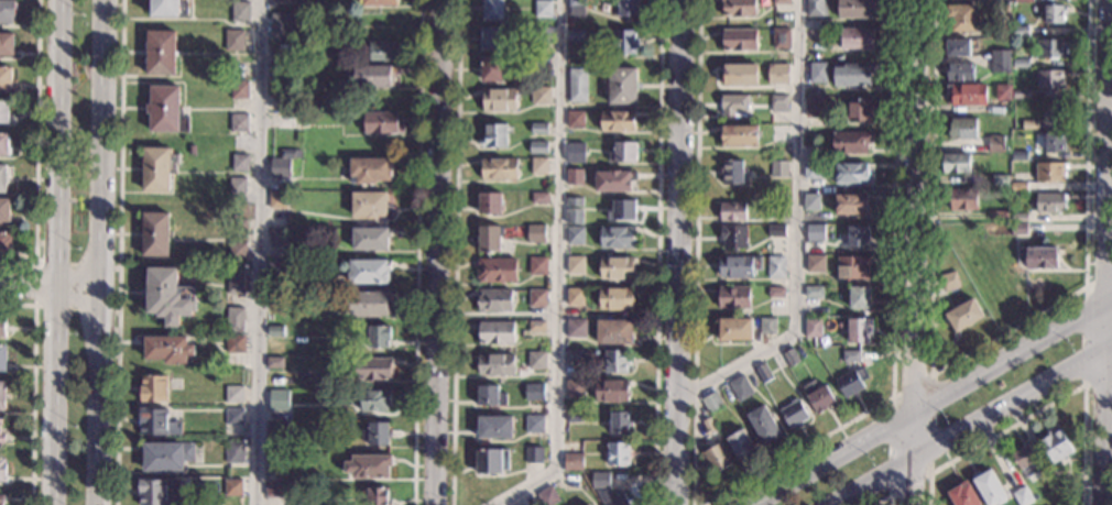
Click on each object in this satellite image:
building: (280, 0)
building: (1023, 0)
building: (781, 1)
building: (378, 2)
building: (576, 2)
building: (543, 3)
building: (815, 7)
building: (167, 8)
building: (626, 8)
building: (739, 8)
building: (855, 8)
building: (492, 9)
building: (7, 11)
building: (240, 11)
building: (1054, 13)
building: (960, 18)
building: (281, 25)
building: (1001, 29)
building: (543, 31)
building: (1020, 31)
building: (811, 33)
building: (577, 34)
building: (491, 37)
building: (857, 37)
building: (739, 39)
building: (781, 39)
building: (235, 40)
building: (623, 42)
building: (7, 44)
building: (957, 47)
building: (1050, 48)
building: (383, 51)
building: (161, 53)
building: (280, 55)
building: (527, 59)
building: (1000, 61)
building: (1020, 63)
building: (491, 68)
building: (778, 68)
building: (818, 72)
building: (958, 72)
building: (284, 74)
building: (739, 74)
building: (371, 75)
building: (851, 75)
building: (6, 78)
building: (1050, 79)
building: (577, 84)
building: (622, 86)
building: (239, 89)
building: (966, 92)
building: (1002, 92)
building: (1020, 92)
building: (541, 96)
building: (498, 99)
building: (285, 101)
building: (777, 103)
building: (733, 105)
building: (815, 107)
building: (165, 109)
building: (1056, 109)
building: (859, 110)
building: (3, 111)
building: (575, 119)
building: (285, 120)
building: (617, 120)
building: (239, 122)
building: (382, 122)
building: (1029, 124)
building: (538, 128)
building: (962, 129)
building: (777, 132)
building: (492, 135)
building: (738, 135)
building: (851, 142)
building: (1054, 142)
building: (995, 143)
building: (3, 144)
building: (538, 146)
building: (576, 146)
road: (35, 150)
building: (622, 151)
building: (287, 153)
building: (1018, 155)
building: (239, 162)
building: (953, 162)
building: (538, 165)
building: (811, 166)
building: (157, 167)
building: (281, 167)
building: (499, 168)
building: (778, 168)
building: (370, 169)
building: (1049, 172)
building: (731, 173)
building: (850, 174)
building: (575, 176)
building: (2, 178)
building: (613, 180)
building: (1000, 182)
building: (237, 185)
building: (1018, 187)
building: (539, 197)
building: (961, 199)
building: (277, 200)
building: (574, 201)
building: (811, 201)
building: (489, 202)
building: (1049, 202)
building: (851, 204)
building: (370, 205)
road: (915, 206)
building: (3, 210)
building: (622, 210)
building: (731, 211)
building: (776, 211)
building: (574, 216)
building: (999, 216)
building: (1018, 217)
building: (238, 228)
building: (1018, 229)
building: (775, 230)
building: (815, 232)
building: (535, 233)
building: (155, 234)
road: (794, 234)
building: (293, 235)
building: (576, 235)
building: (733, 235)
building: (858, 235)
building: (277, 237)
building: (617, 237)
building: (370, 238)
building: (489, 238)
building: (6, 244)
building: (237, 251)
road: (54, 252)
road: (97, 252)
road: (119, 252)
road: (258, 252)
road: (416, 252)
road: (434, 252)
road: (455, 252)
road: (657, 252)
road: (675, 252)
road: (695, 252)
road: (1104, 252)
building: (1037, 257)
building: (815, 263)
building: (575, 264)
building: (537, 265)
building: (739, 265)
building: (615, 266)
building: (776, 266)
building: (853, 266)
building: (276, 267)
road: (556, 268)
building: (495, 270)
building: (368, 271)
road: (931, 276)
building: (235, 279)
building: (949, 281)
road: (34, 285)
road: (47, 287)
building: (776, 292)
building: (814, 292)
building: (168, 295)
building: (575, 296)
building: (733, 296)
building: (537, 297)
building: (615, 297)
building: (859, 297)
building: (493, 299)
building: (275, 300)
building: (369, 303)
road: (893, 306)
building: (963, 316)
building: (235, 320)
building: (771, 325)
building: (2, 326)
building: (536, 326)
building: (575, 327)
building: (813, 327)
building: (733, 328)
building: (858, 329)
building: (275, 330)
building: (613, 330)
building: (495, 332)
building: (378, 336)
road: (1083, 338)
building: (235, 343)
building: (167, 349)
building: (575, 355)
building: (850, 355)
building: (789, 356)
road: (1012, 356)
building: (2, 358)
building: (535, 359)
building: (615, 361)
building: (275, 362)
building: (497, 364)
building: (372, 369)
building: (763, 372)
building: (851, 382)
road: (33, 387)
building: (576, 387)
building: (740, 387)
building: (153, 388)
building: (611, 389)
building: (534, 391)
building: (235, 394)
building: (274, 394)
building: (490, 395)
building: (2, 396)
building: (818, 396)
road: (1011, 396)
building: (373, 400)
building: (710, 402)
road: (1043, 407)
building: (795, 413)
building: (233, 417)
building: (574, 417)
building: (156, 422)
building: (620, 422)
building: (534, 424)
building: (763, 424)
building: (494, 427)
building: (707, 427)
building: (1, 432)
building: (377, 433)
road: (913, 433)
building: (277, 435)
building: (740, 444)
building: (1054, 447)
building: (235, 451)
building: (618, 453)
building: (533, 454)
building: (166, 455)
building: (715, 458)
road: (835, 459)
building: (492, 460)
building: (573, 461)
building: (1025, 461)
building: (277, 464)
building: (369, 466)
building: (2, 470)
road: (928, 473)
road: (866, 479)
road: (912, 479)
building: (600, 480)
building: (1049, 480)
building: (1064, 480)
building: (232, 487)
building: (989, 488)
building: (159, 492)
building: (274, 492)
building: (378, 495)
building: (546, 495)
building: (963, 495)
building: (1021, 496)
road: (885, 497)
building: (612, 498)
building: (1, 499)
building: (587, 504)
building: (589, 504)

